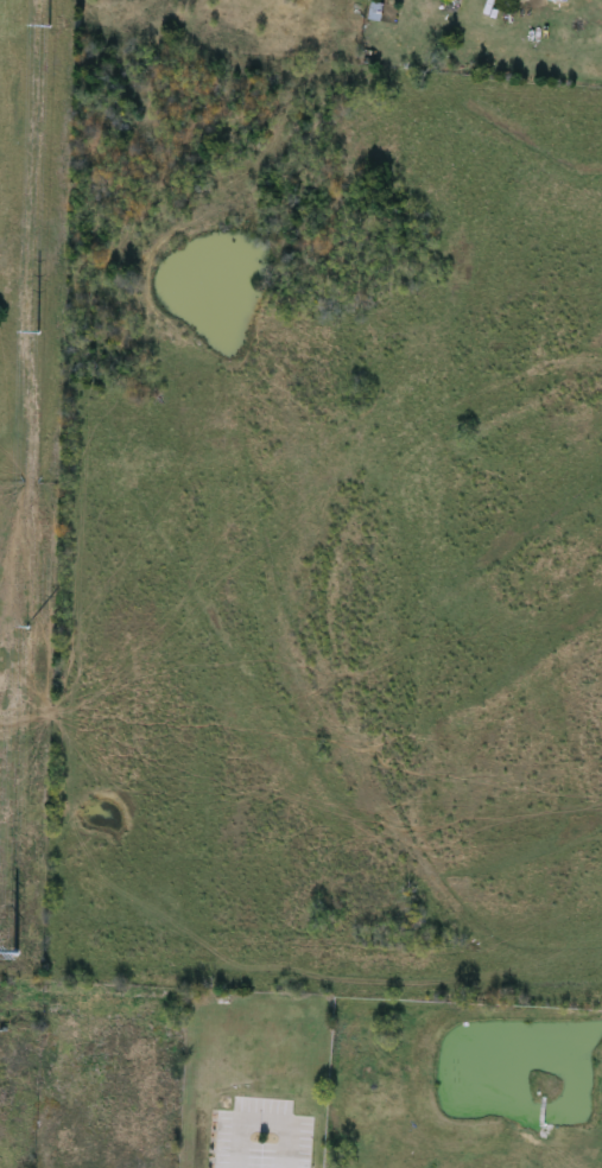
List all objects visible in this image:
building: (376, 13)
road: (260, 1119)
parking lot: (261, 1136)

